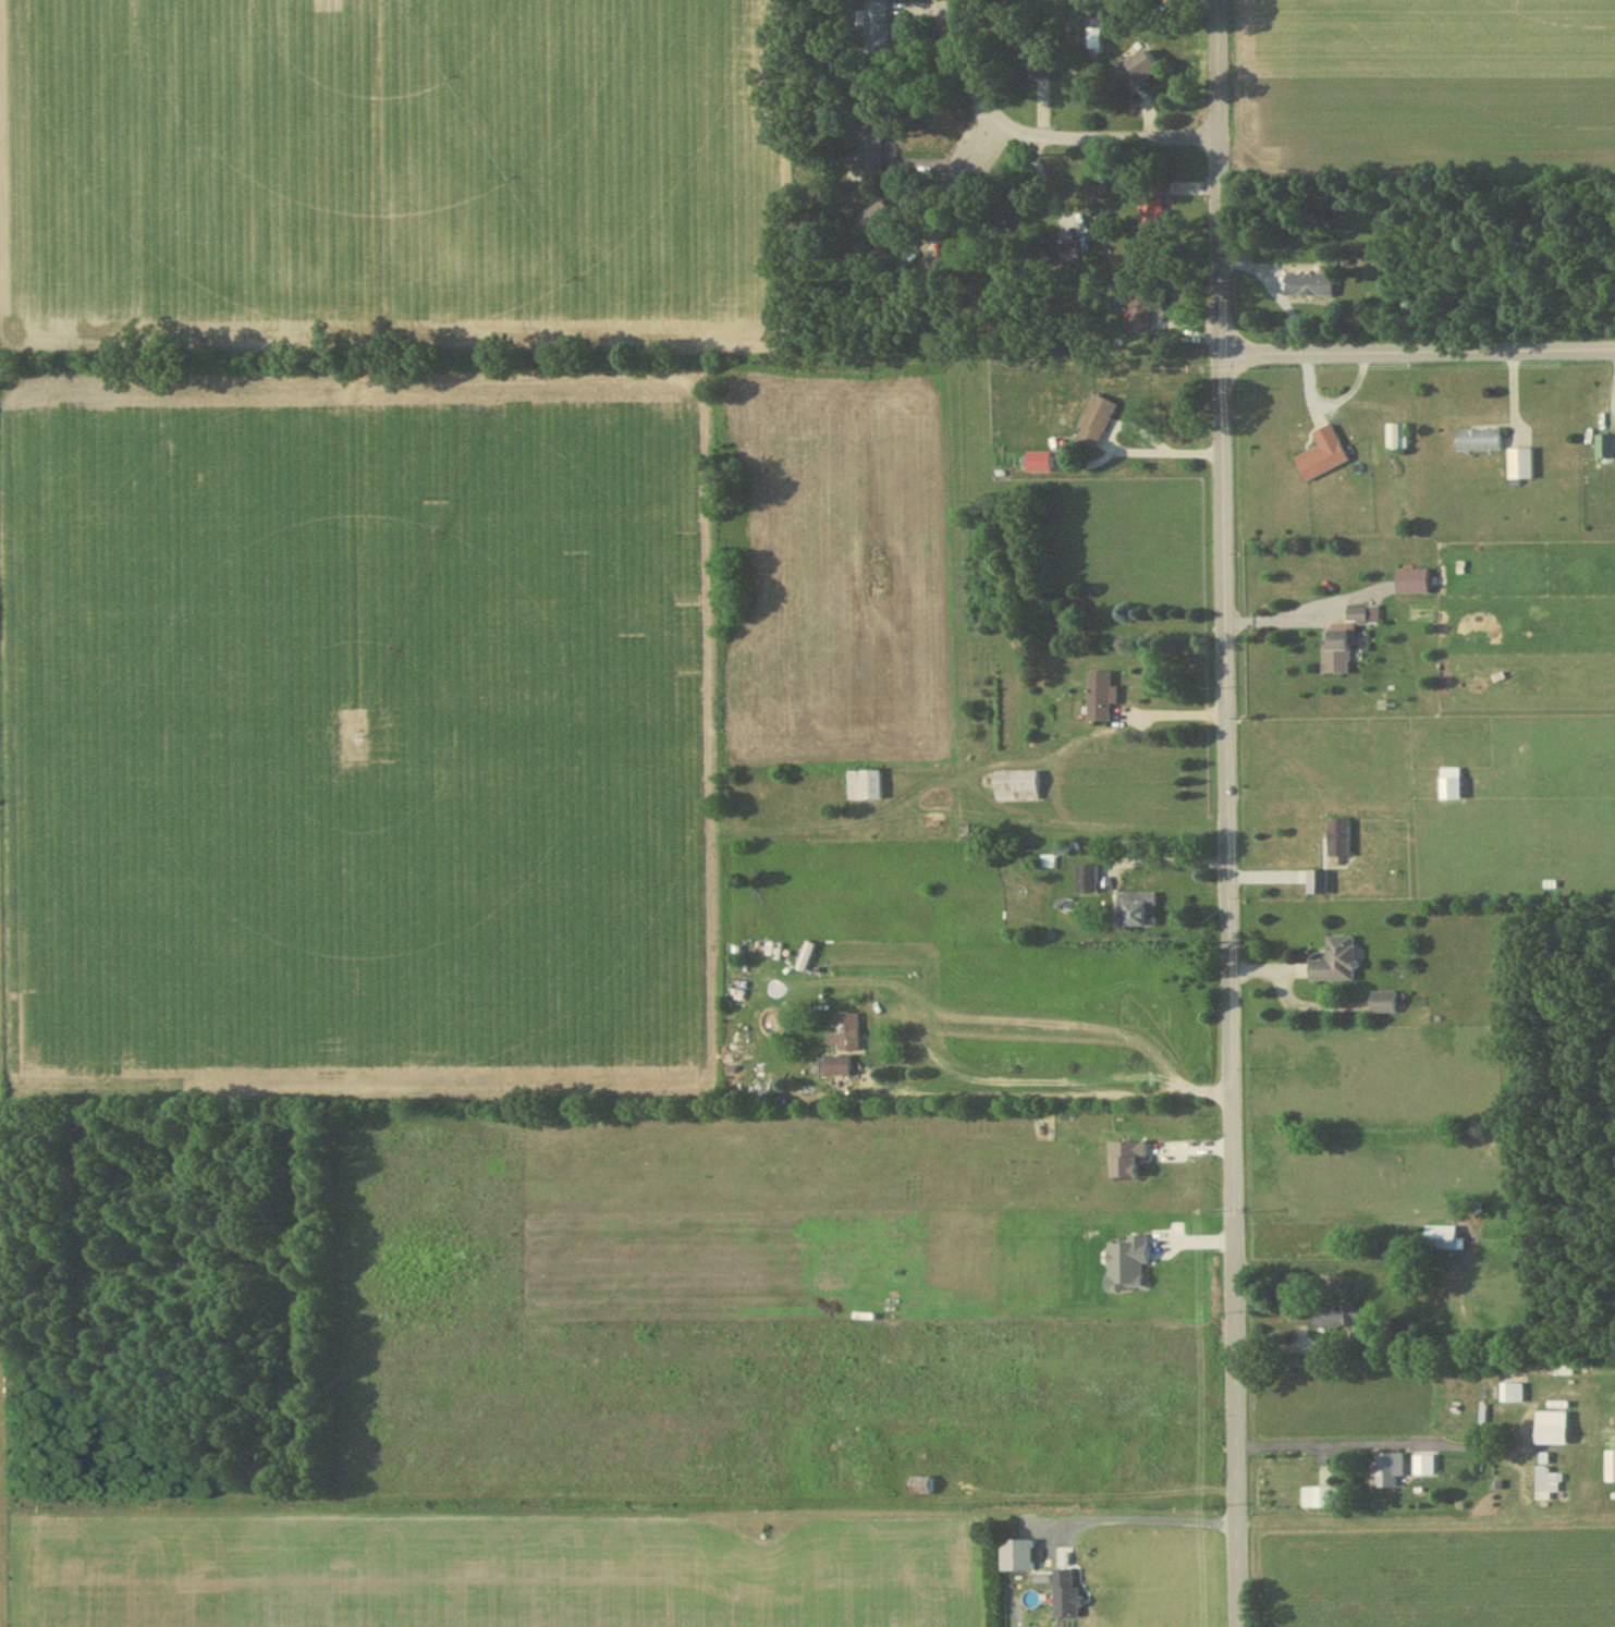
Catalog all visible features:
building: (878, 26)
building: (1035, 52)
building: (1140, 66)
road: (1035, 134)
building: (872, 146)
road: (972, 152)
building: (1152, 208)
building: (877, 216)
building: (1310, 284)
building: (1145, 309)
road: (1418, 355)
building: (1094, 421)
building: (1398, 437)
building: (1481, 440)
road: (1124, 449)
building: (1325, 454)
building: (1041, 461)
building: (1522, 463)
road: (1281, 612)
building: (1360, 614)
building: (1342, 640)
building: (1102, 696)
building: (1453, 782)
building: (866, 784)
building: (1017, 785)
road: (1226, 812)
building: (1342, 836)
building: (1137, 907)
building: (1338, 959)
building: (1386, 1000)
building: (846, 1032)
building: (839, 1064)
road: (1043, 1094)
building: (1444, 1237)
building: (1338, 1314)
building: (1363, 1341)
building: (1514, 1391)
building: (1553, 1427)
road: (1373, 1441)
building: (1426, 1464)
building: (1612, 1466)
building: (1390, 1469)
building: (1546, 1482)
building: (1323, 1496)
road: (1147, 1516)
building: (1019, 1555)

